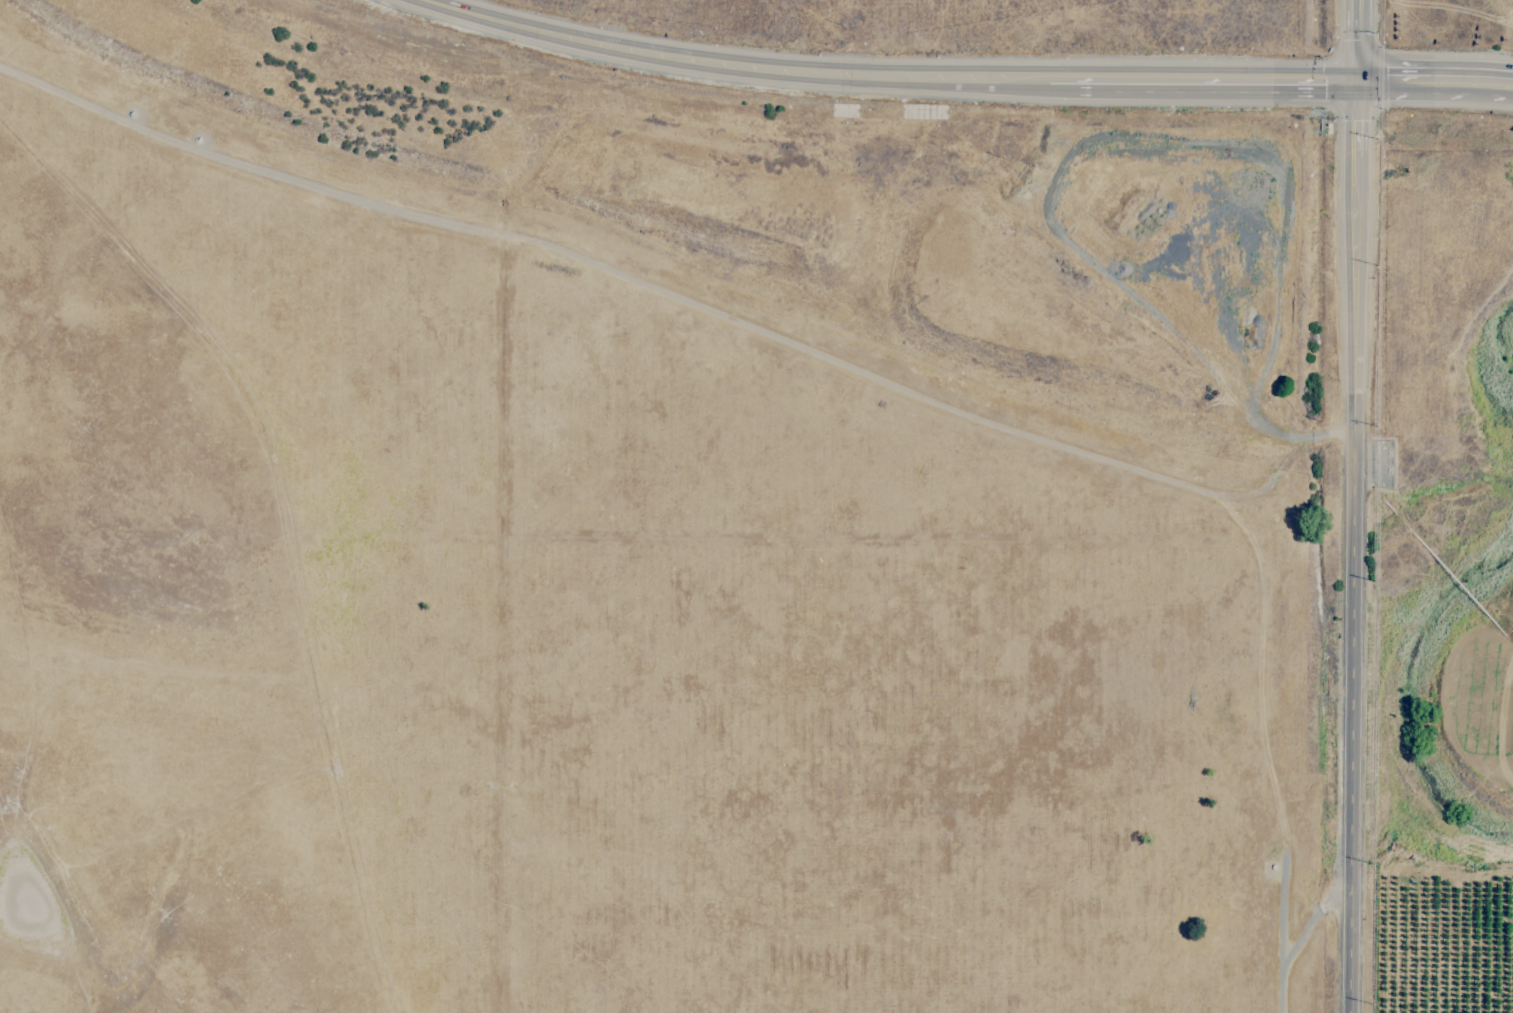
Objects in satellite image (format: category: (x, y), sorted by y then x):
park: (780, 26)
road: (1354, 41)
road: (884, 77)
road: (1434, 80)
road: (688, 301)
crop: (1473, 486)
road: (1352, 547)
park: (605, 629)
road: (1298, 939)

